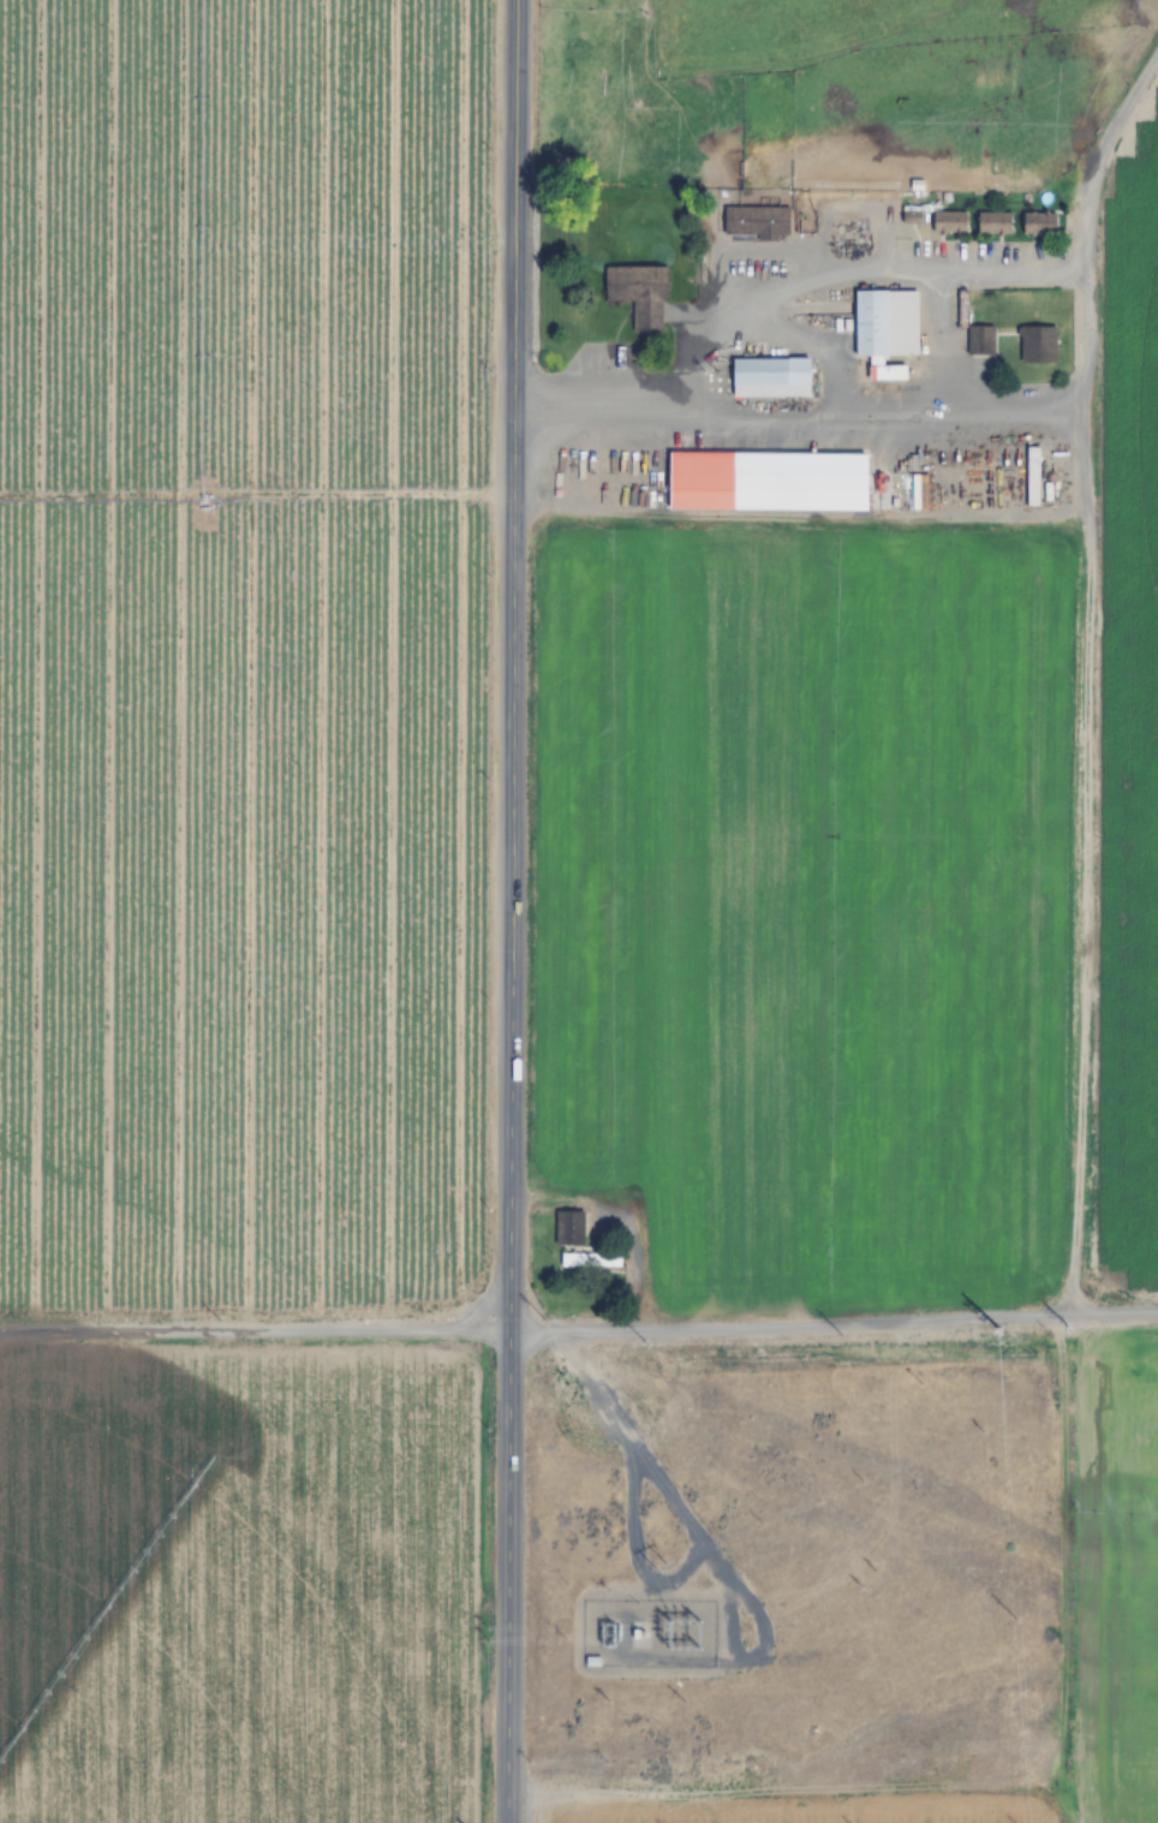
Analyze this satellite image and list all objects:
building: (756, 221)
building: (948, 222)
building: (993, 224)
building: (1038, 224)
building: (639, 294)
building: (885, 330)
building: (980, 341)
building: (1037, 345)
building: (771, 379)
building: (1032, 477)
building: (768, 482)
building: (918, 493)
road: (512, 666)
building: (569, 1227)
building: (590, 1259)
road: (579, 1329)
road: (506, 1577)

